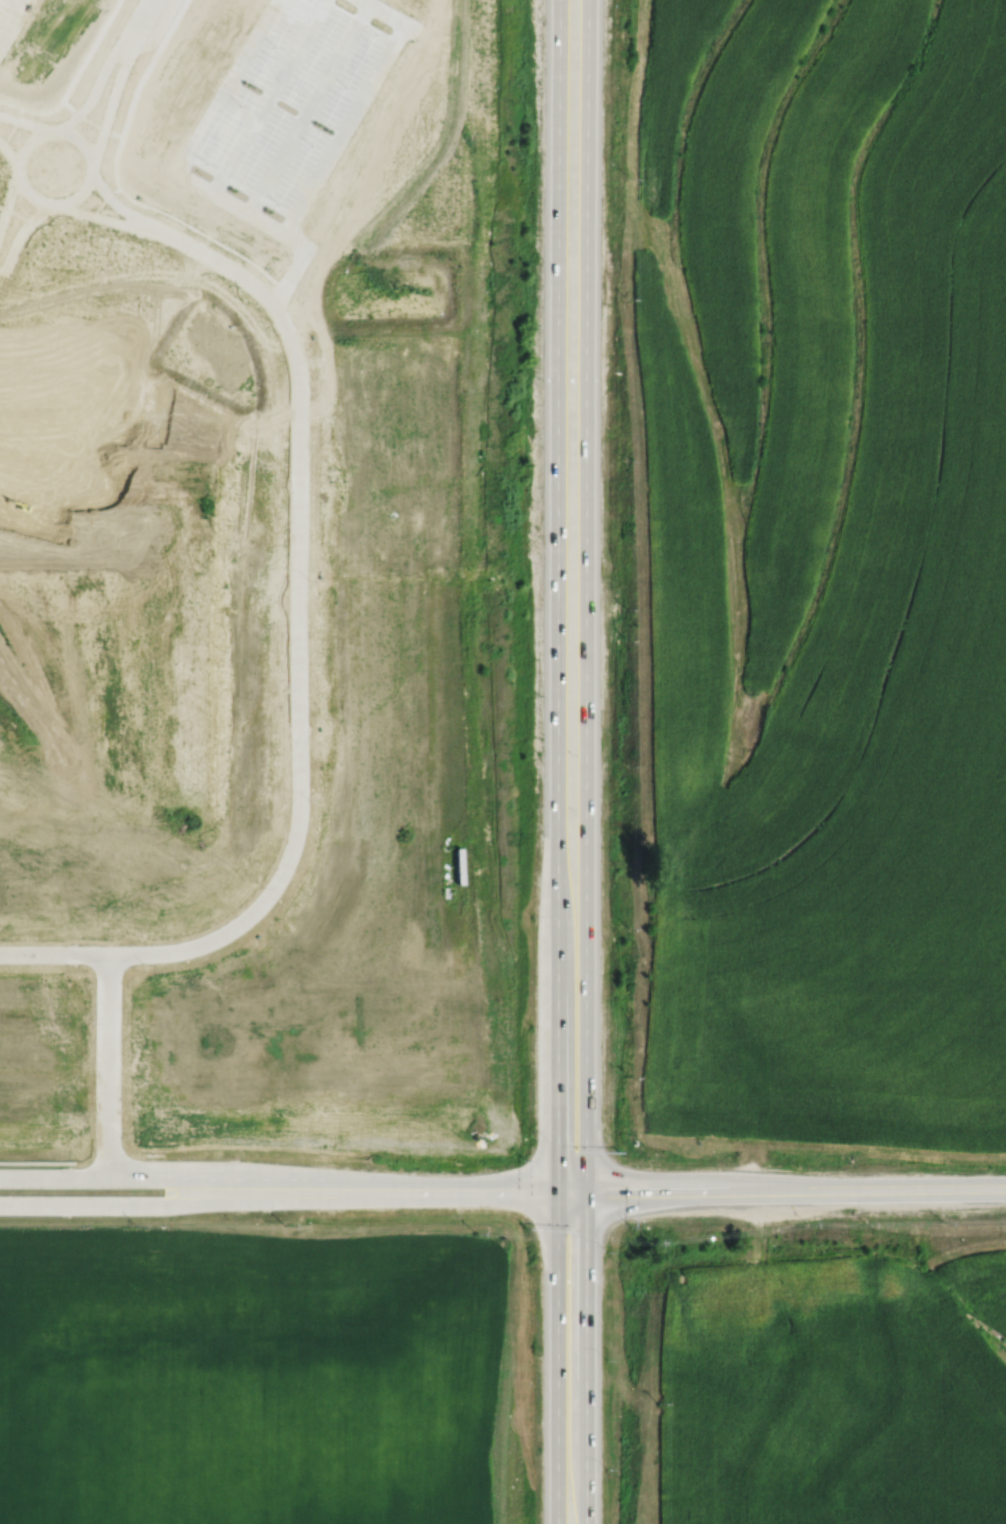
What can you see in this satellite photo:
road: (12, 22)
road: (136, 22)
road: (92, 91)
road: (264, 94)
road: (106, 105)
road: (305, 105)
road: (354, 108)
road: (25, 121)
road: (7, 157)
road: (186, 174)
road: (26, 193)
road: (113, 203)
road: (102, 216)
road: (295, 519)
crop: (825, 568)
road: (555, 596)
road: (583, 596)
road: (203, 941)
road: (53, 954)
road: (106, 1066)
road: (87, 1160)
road: (781, 1191)
road: (206, 1193)
road: (381, 1194)
road: (555, 1358)
road: (583, 1358)

